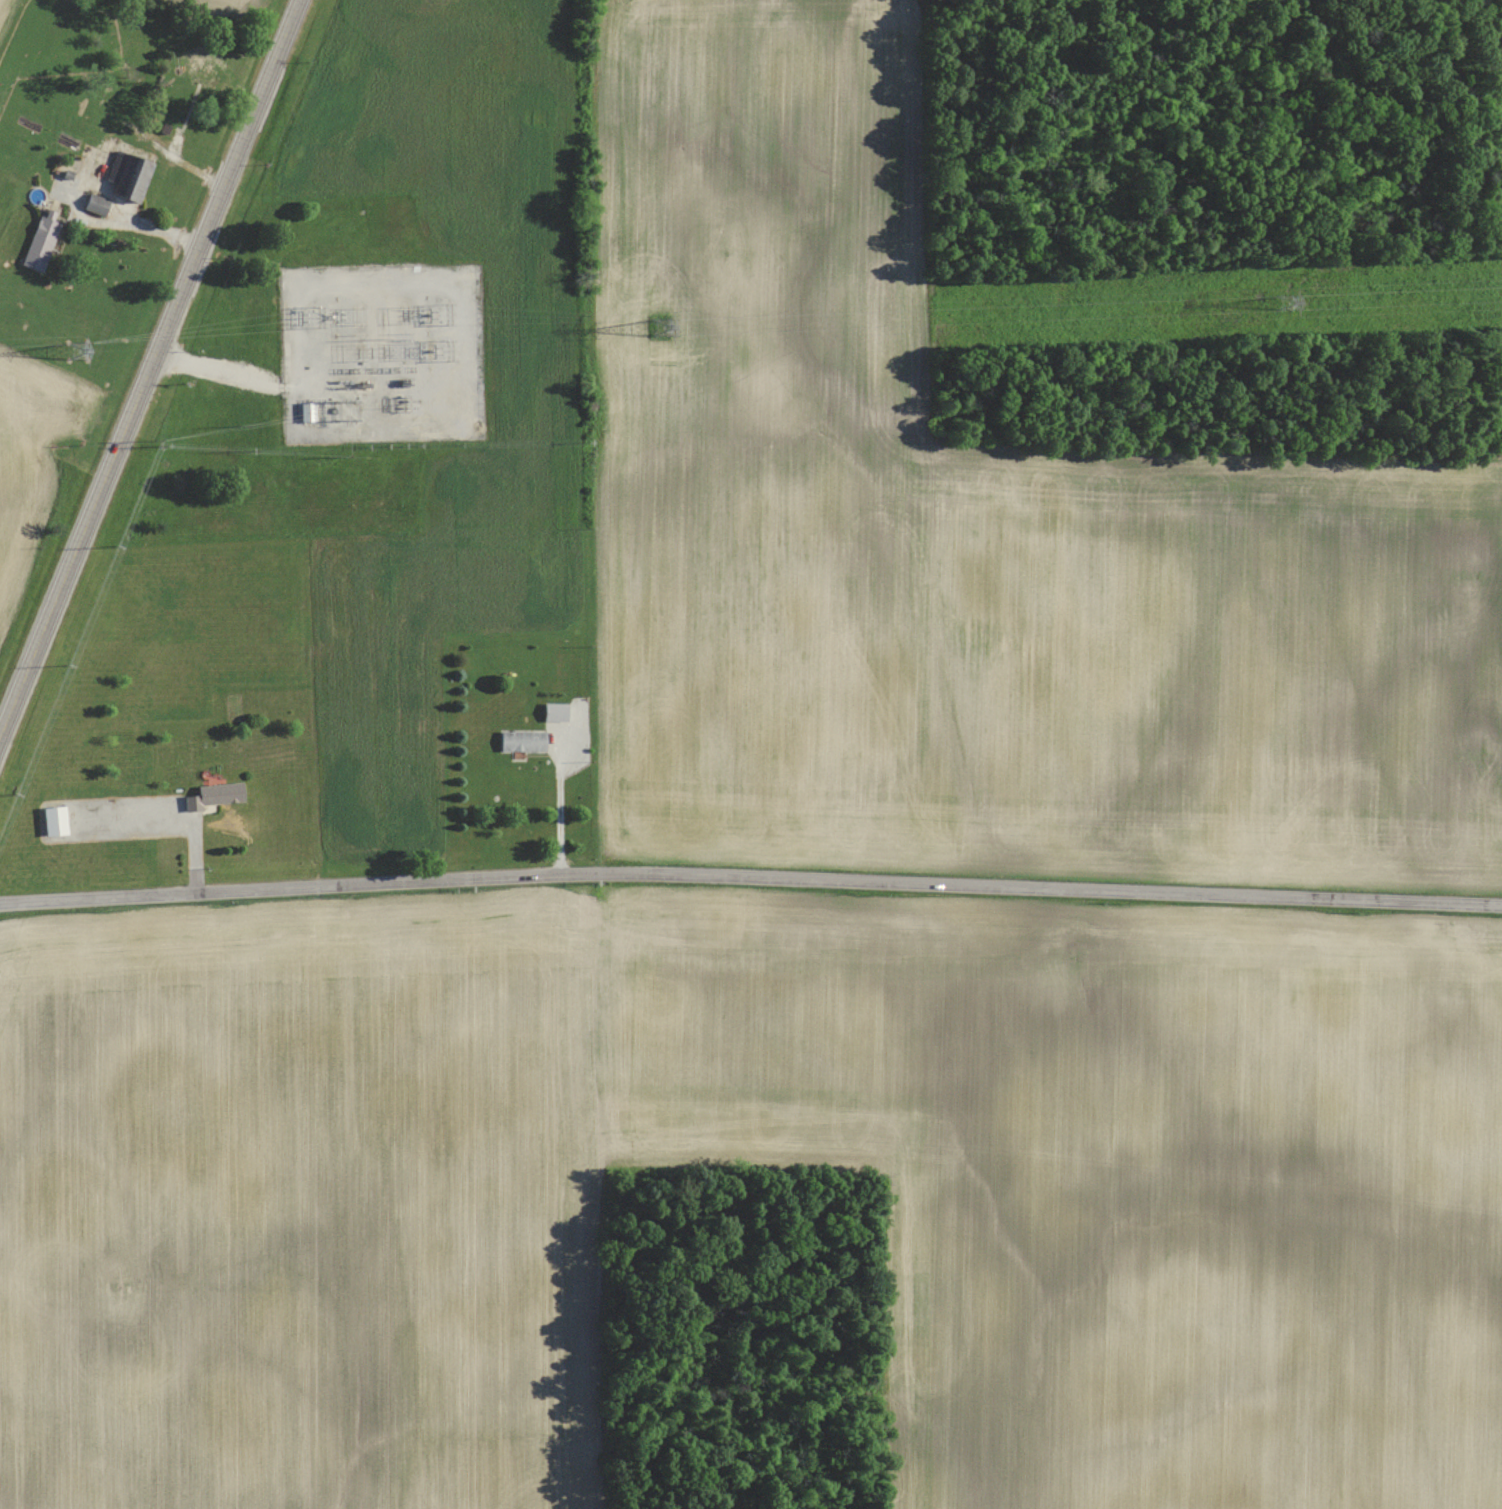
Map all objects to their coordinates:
building: (118, 184)
building: (40, 244)
power substation: (383, 352)
power tower: (76, 353)
road: (151, 377)
building: (307, 411)
building: (555, 710)
building: (523, 740)
building: (216, 793)
road: (564, 809)
building: (53, 819)
road: (750, 874)

